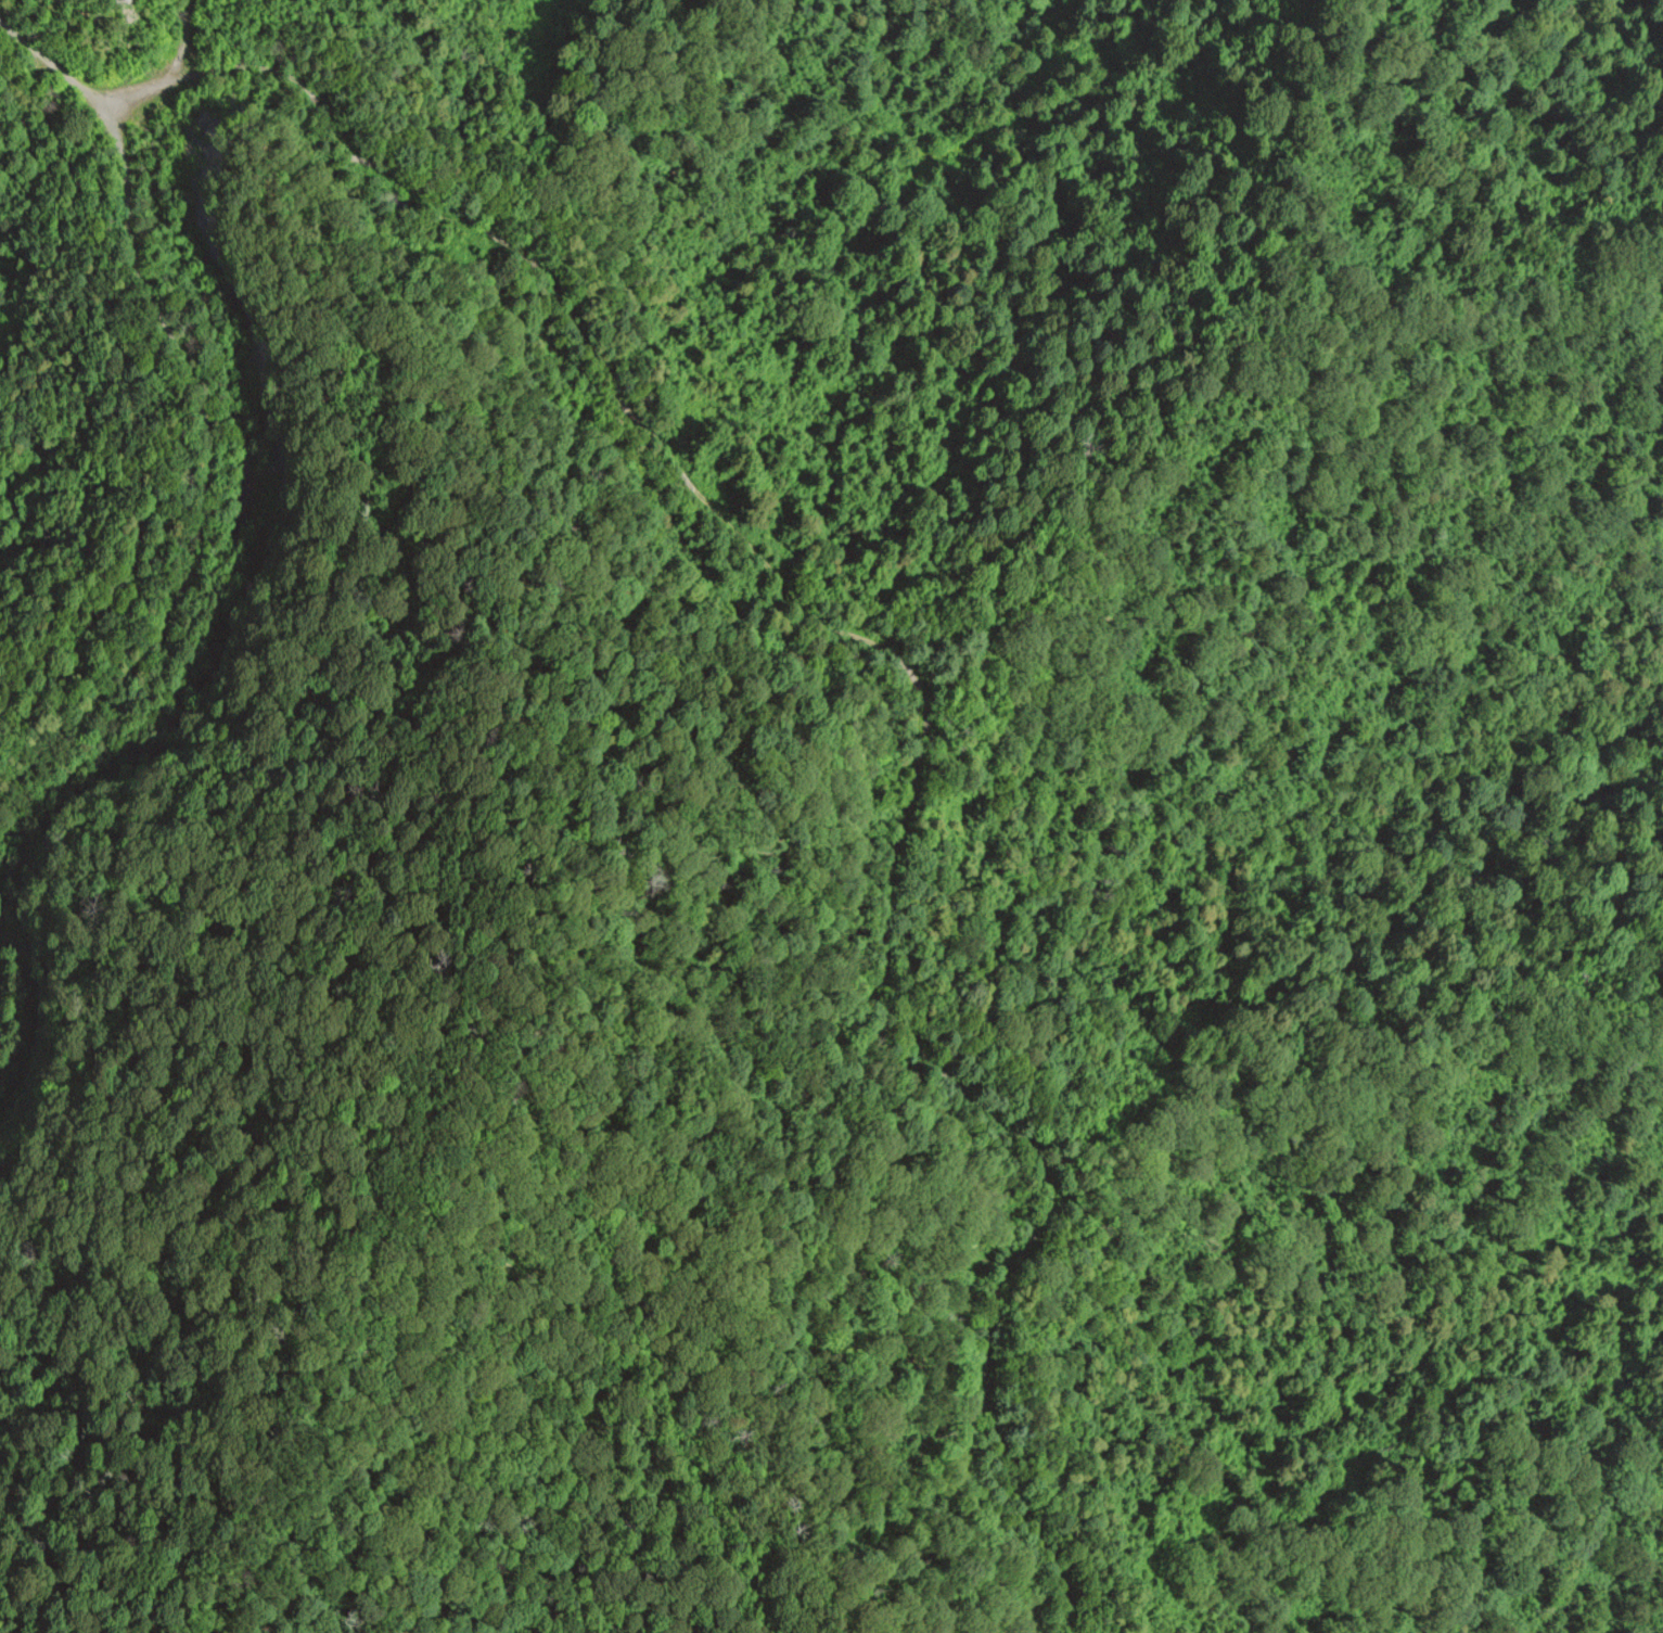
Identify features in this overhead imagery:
road: (155, 425)

